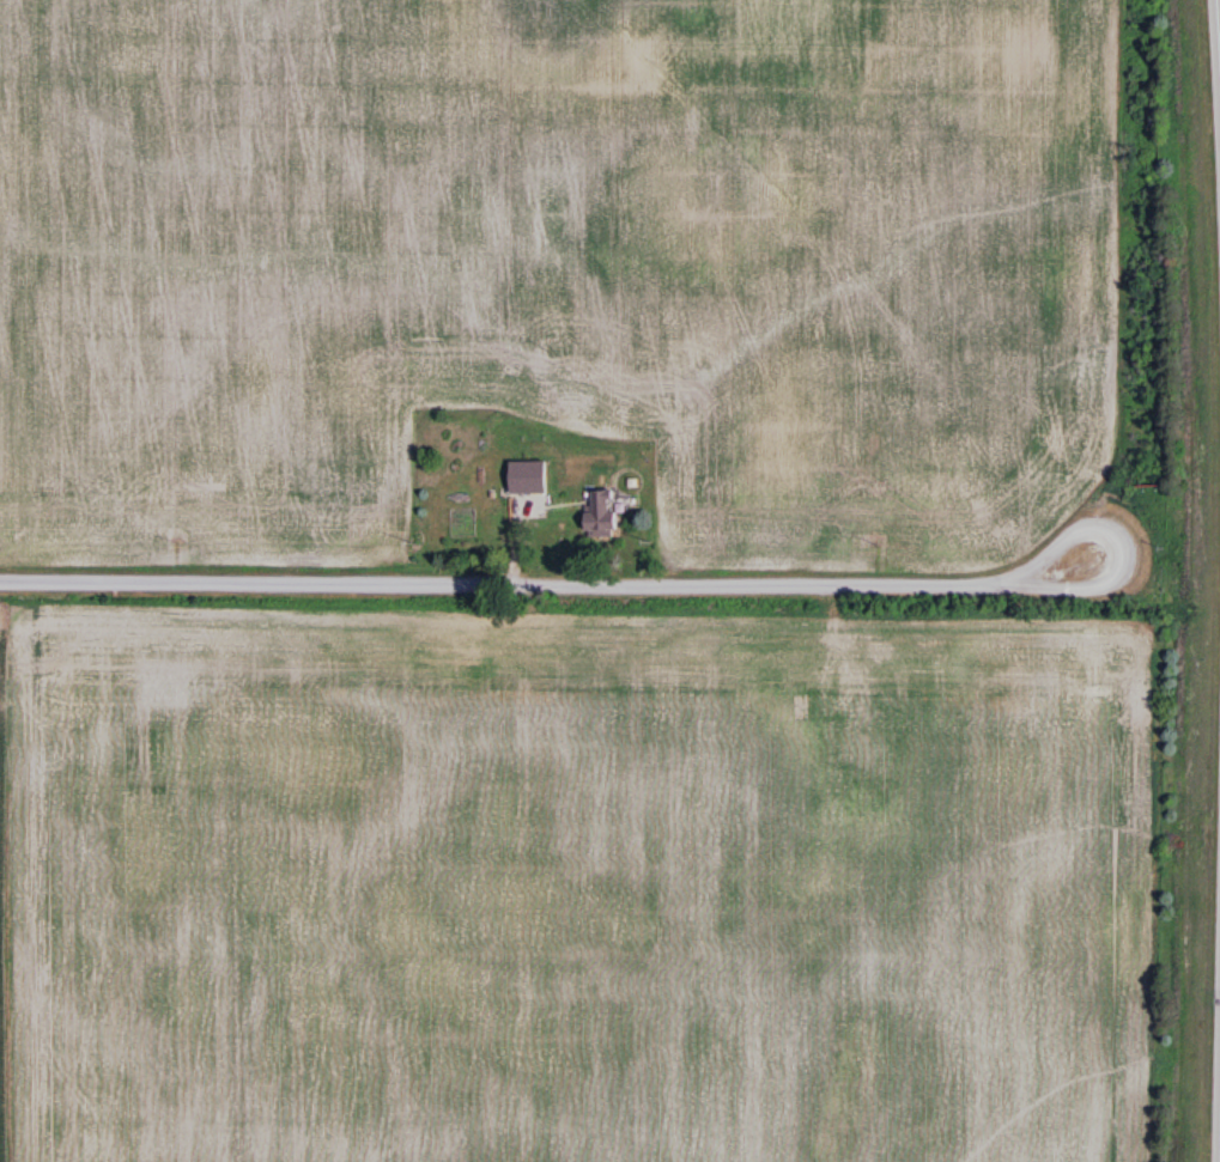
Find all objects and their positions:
building: (528, 476)
building: (600, 513)
road: (542, 579)

